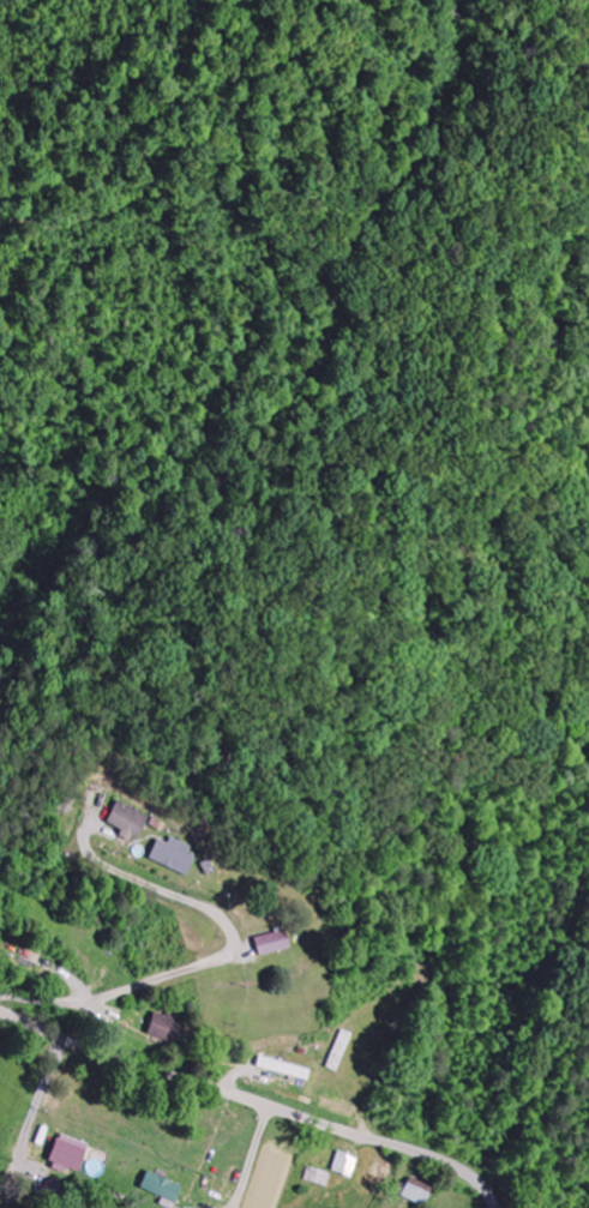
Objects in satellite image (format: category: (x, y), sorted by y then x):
building: (134, 822)
building: (179, 857)
building: (276, 943)
building: (168, 1029)
building: (287, 1069)
road: (253, 1101)
building: (71, 1155)
building: (347, 1165)
building: (164, 1188)
building: (419, 1195)

